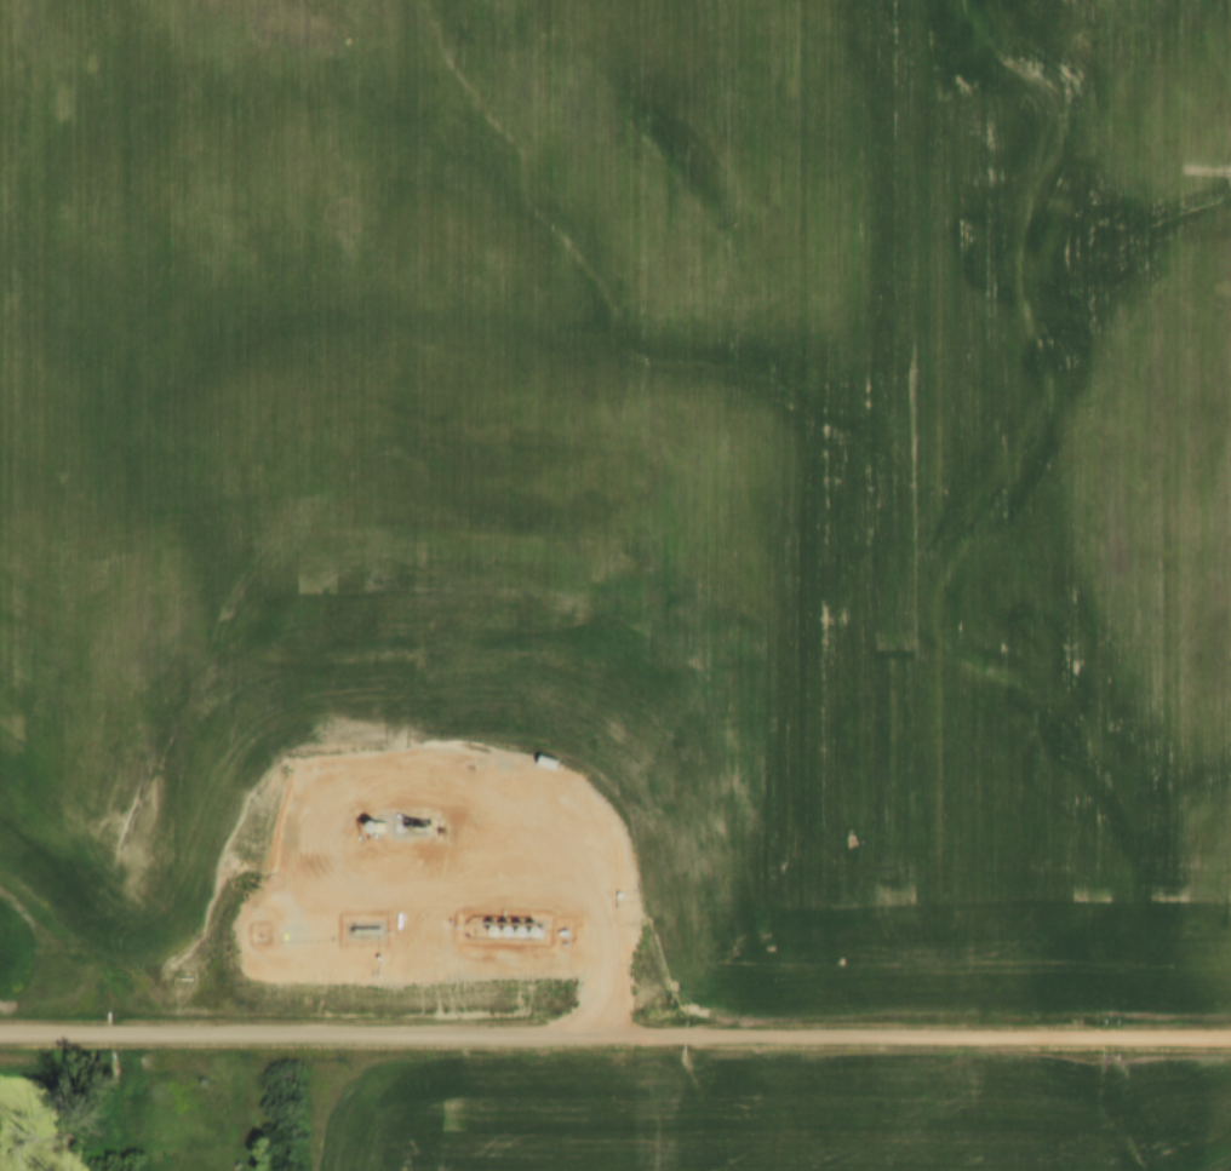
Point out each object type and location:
road: (394, 787)
building: (414, 825)
building: (373, 827)
building: (395, 919)
building: (361, 929)
road: (614, 1035)

